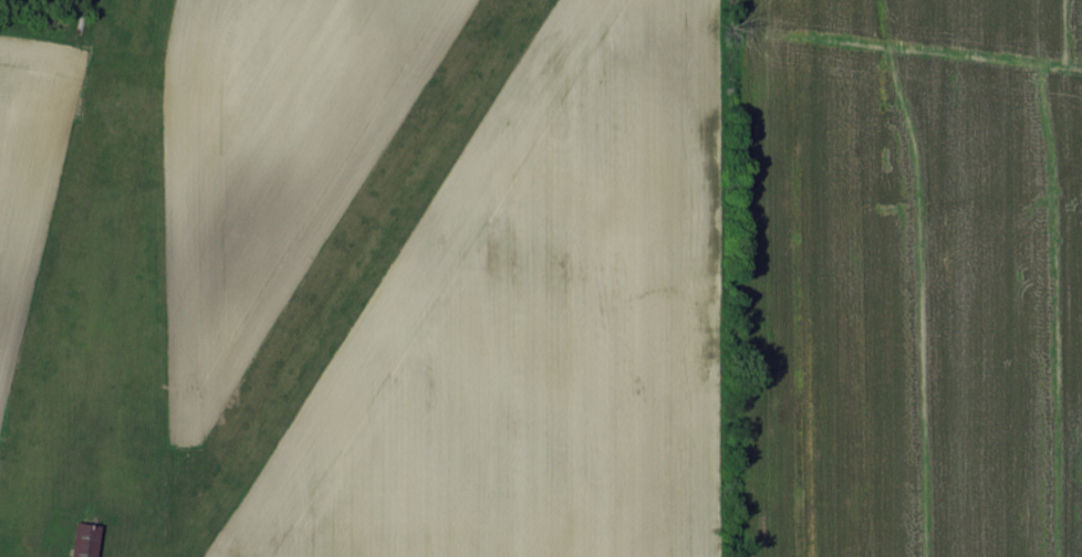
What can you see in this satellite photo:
airport runway: (366, 235)
airport: (299, 317)
airport hangar: (84, 540)
building: (84, 540)

